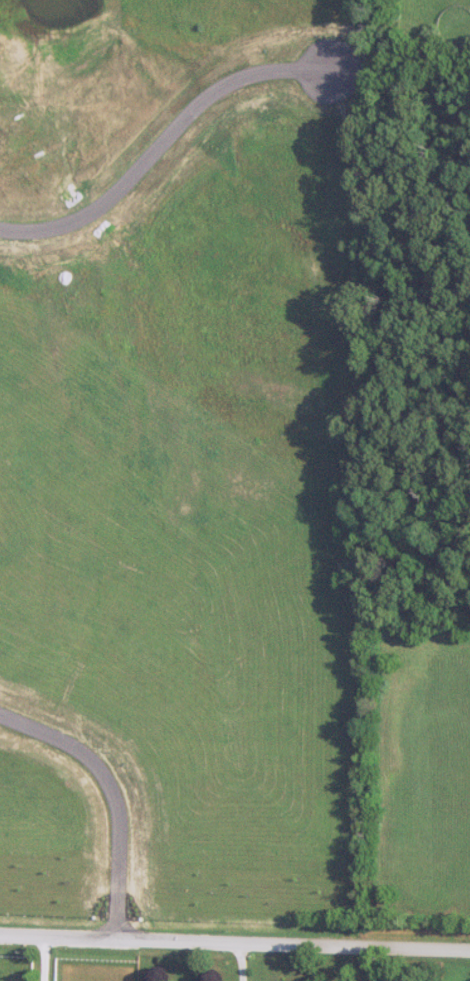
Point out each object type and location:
road: (235, 943)
road: (48, 959)
road: (246, 962)

